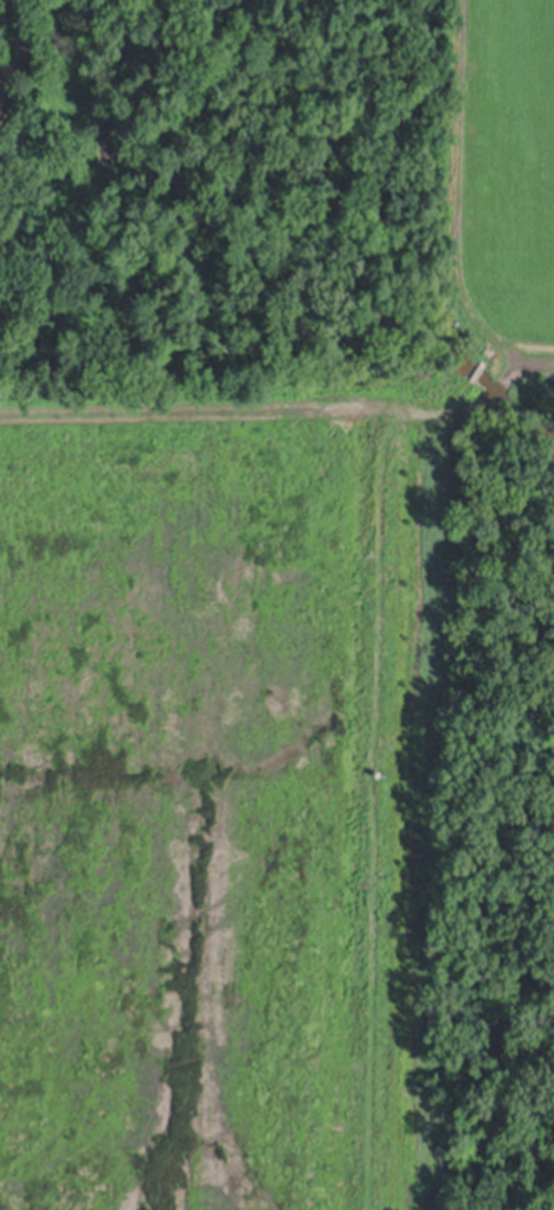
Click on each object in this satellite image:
crop: (497, 166)
crop: (211, 807)

